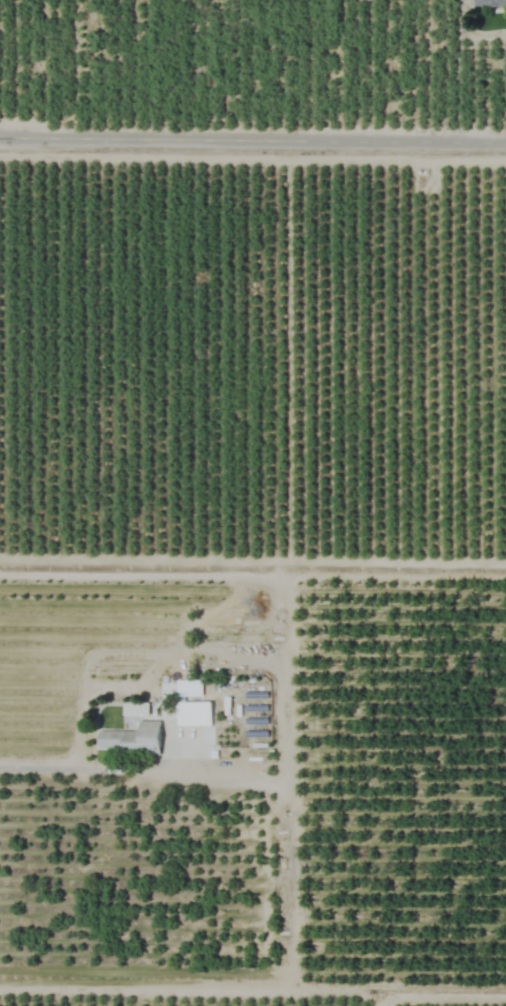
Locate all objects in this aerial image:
building: (490, 3)
road: (253, 143)
road: (252, 570)
building: (193, 714)
building: (133, 739)
road: (238, 771)
road: (167, 988)

